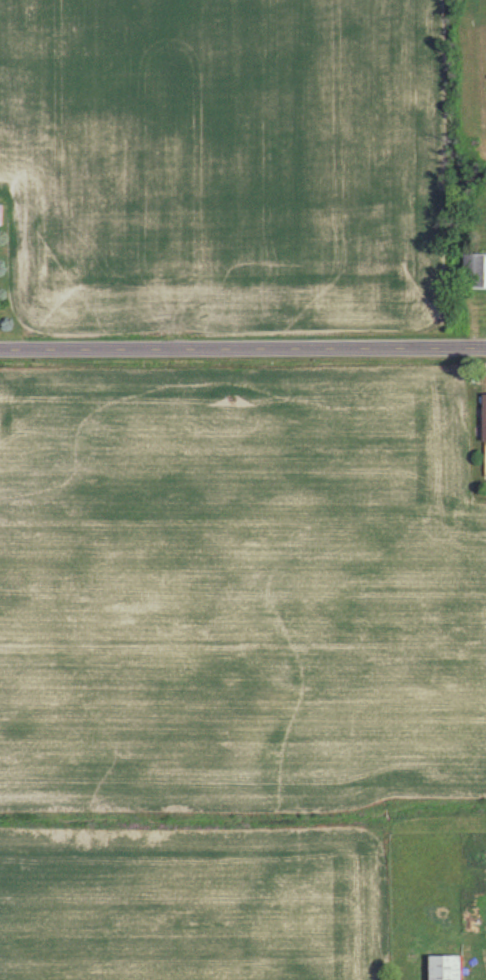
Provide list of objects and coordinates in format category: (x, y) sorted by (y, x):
building: (472, 270)
road: (243, 352)
building: (482, 417)
building: (443, 967)

